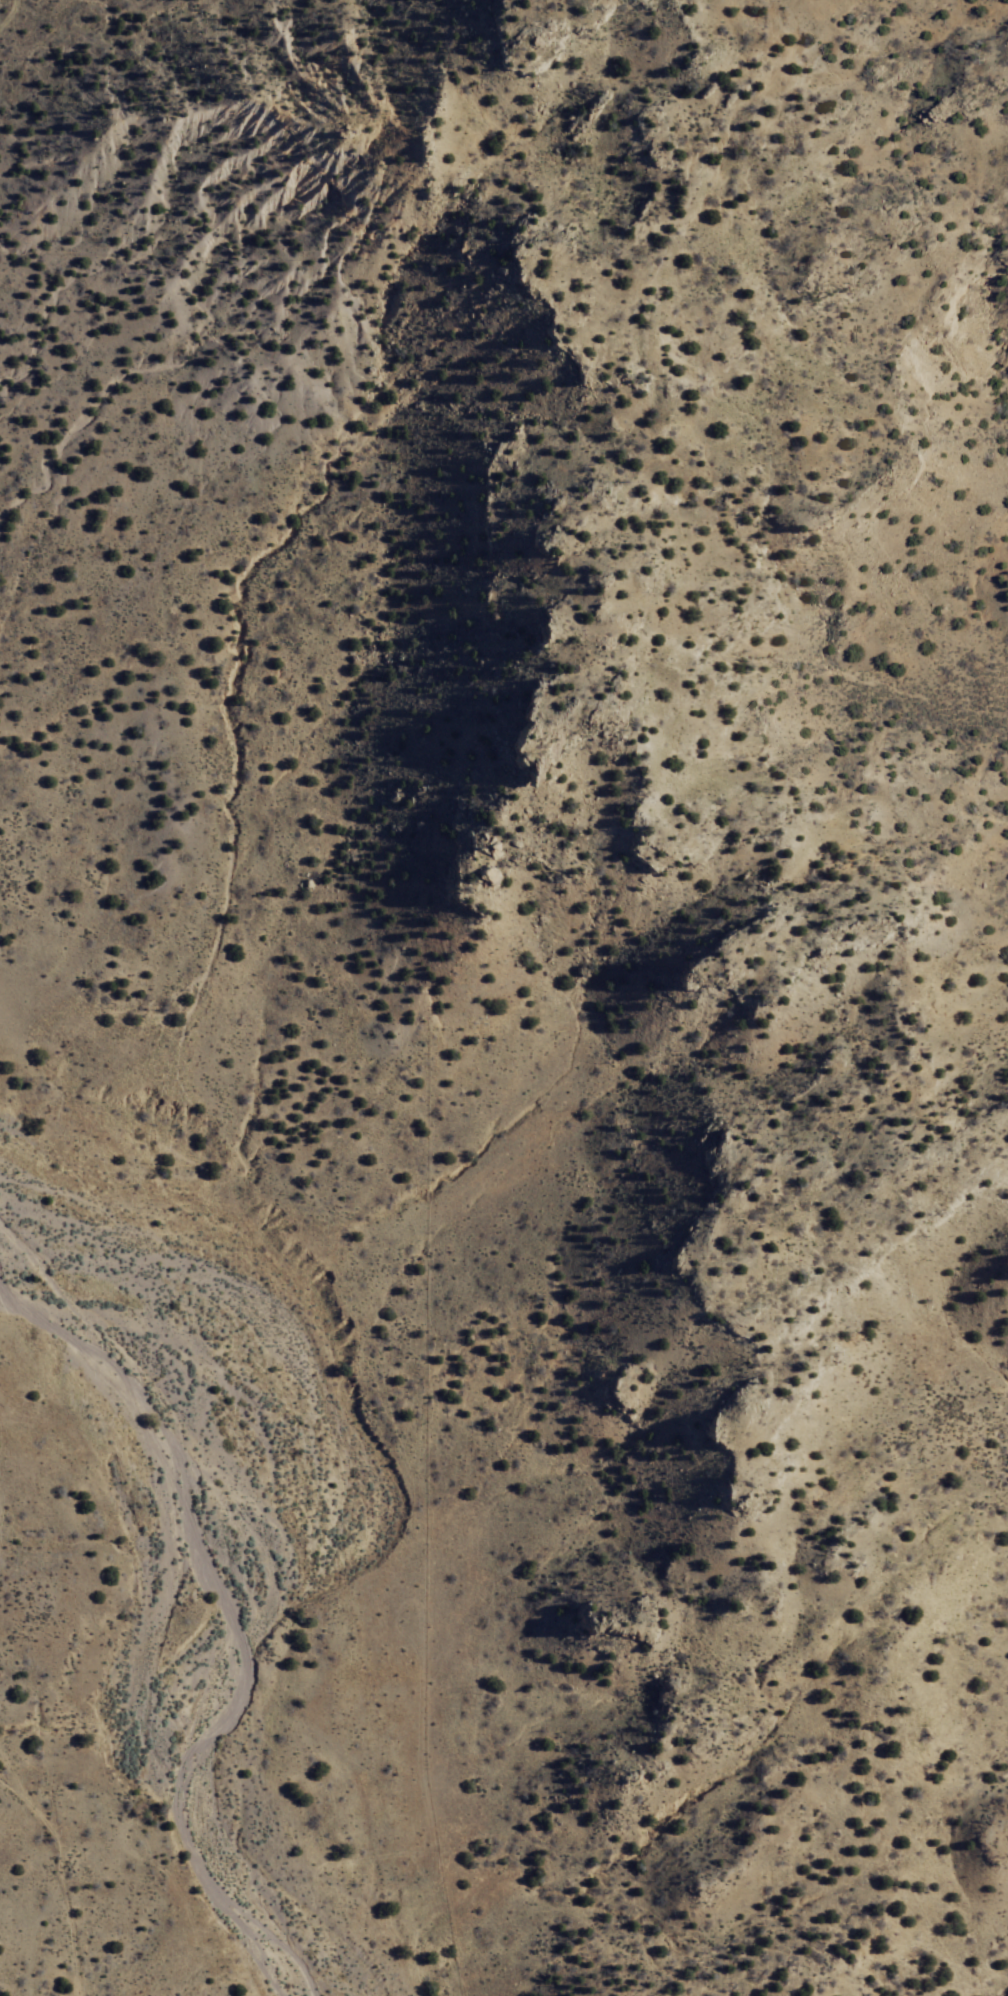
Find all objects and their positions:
road: (68, 1468)
road: (71, 1877)

